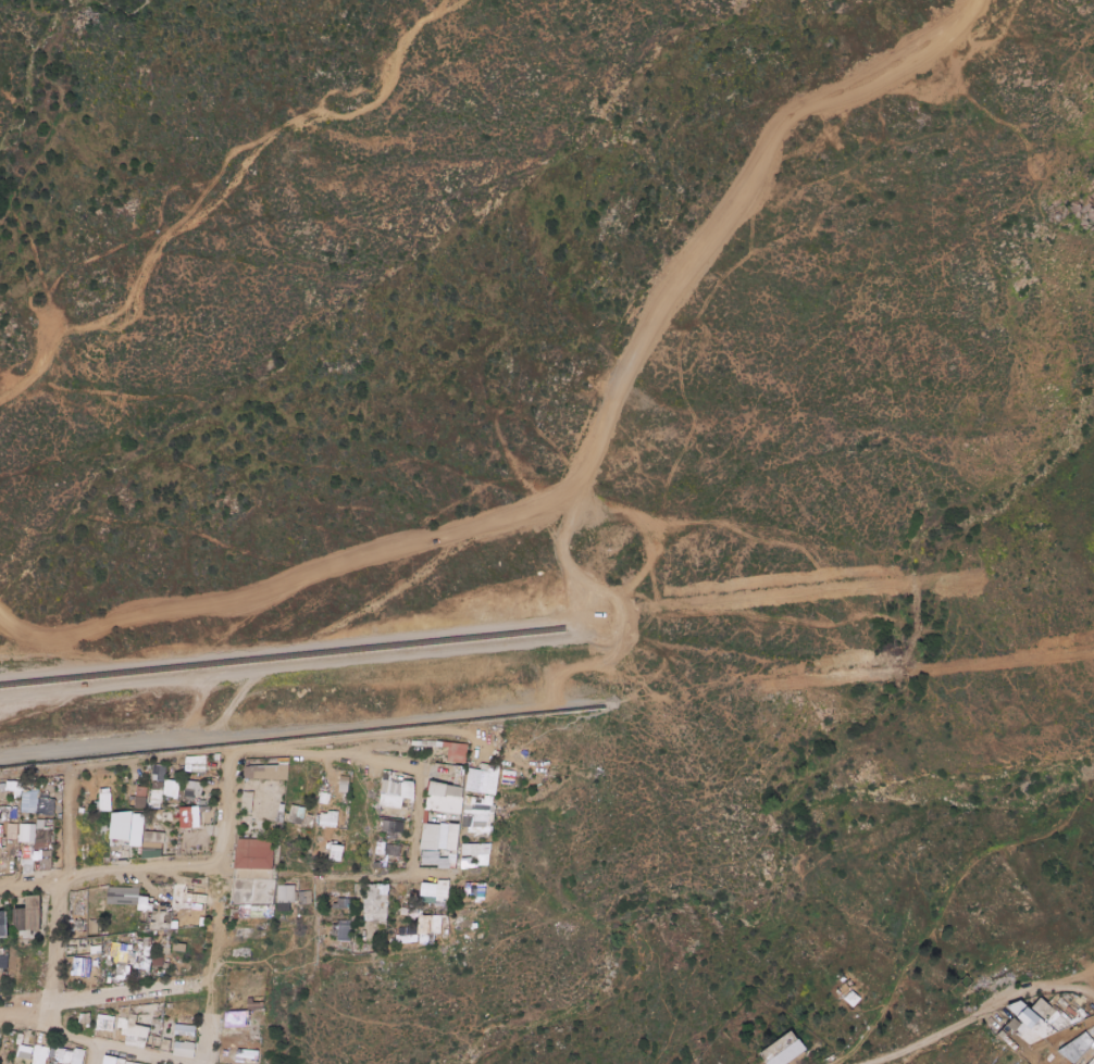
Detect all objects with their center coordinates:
road: (960, 28)
road: (260, 159)
road: (32, 189)
road: (705, 261)
road: (38, 372)
road: (656, 530)
road: (475, 537)
road: (581, 617)
road: (549, 636)
road: (283, 644)
road: (547, 709)
building: (453, 754)
road: (327, 755)
building: (215, 758)
building: (181, 762)
building: (246, 762)
building: (250, 763)
building: (195, 764)
building: (268, 772)
building: (158, 773)
building: (450, 774)
building: (383, 775)
building: (484, 779)
building: (4, 783)
building: (8, 783)
building: (395, 784)
building: (14, 786)
building: (338, 786)
building: (427, 786)
building: (386, 787)
building: (191, 788)
building: (398, 788)
building: (172, 789)
building: (444, 789)
building: (132, 792)
building: (430, 792)
building: (460, 792)
building: (179, 793)
building: (401, 793)
building: (41, 796)
building: (157, 796)
building: (409, 796)
building: (188, 797)
building: (105, 800)
building: (182, 801)
building: (389, 801)
building: (140, 802)
building: (202, 802)
building: (246, 802)
building: (29, 803)
building: (443, 803)
building: (46, 806)
building: (149, 806)
building: (279, 808)
building: (477, 809)
building: (115, 810)
building: (1, 813)
building: (378, 813)
building: (176, 814)
building: (296, 814)
building: (386, 814)
building: (3, 816)
building: (278, 816)
building: (59, 817)
building: (328, 818)
building: (140, 821)
building: (409, 821)
building: (82, 822)
road: (419, 822)
building: (378, 823)
building: (124, 826)
building: (194, 826)
building: (390, 826)
building: (477, 827)
building: (26, 833)
building: (41, 833)
building: (122, 833)
building: (391, 834)
building: (431, 834)
building: (448, 835)
building: (154, 837)
building: (7, 841)
building: (444, 843)
building: (42, 847)
building: (389, 849)
building: (152, 850)
building: (84, 851)
building: (339, 852)
building: (452, 852)
building: (478, 853)
building: (15, 854)
building: (37, 854)
building: (254, 854)
building: (91, 855)
building: (27, 856)
building: (78, 858)
building: (438, 858)
building: (36, 859)
building: (451, 859)
building: (104, 860)
building: (45, 861)
building: (433, 861)
building: (2, 863)
building: (3, 871)
building: (253, 874)
road: (110, 876)
road: (403, 876)
building: (204, 879)
building: (136, 886)
building: (167, 889)
building: (444, 889)
building: (430, 890)
building: (474, 891)
building: (179, 892)
building: (253, 892)
road: (63, 893)
building: (408, 893)
building: (285, 894)
building: (123, 896)
building: (296, 897)
building: (46, 898)
building: (191, 898)
building: (303, 898)
building: (201, 899)
building: (443, 899)
building: (411, 900)
building: (430, 900)
building: (150, 901)
building: (333, 901)
building: (401, 901)
building: (376, 902)
building: (349, 903)
building: (146, 904)
building: (185, 904)
building: (338, 904)
building: (260, 905)
road: (219, 906)
building: (283, 906)
building: (445, 906)
building: (437, 907)
building: (415, 909)
building: (34, 910)
building: (272, 911)
building: (420, 911)
building: (244, 912)
building: (260, 912)
building: (232, 913)
building: (235, 913)
building: (15, 914)
building: (26, 918)
building: (160, 921)
building: (426, 921)
building: (16, 923)
building: (149, 923)
building: (3, 925)
building: (77, 925)
building: (173, 925)
building: (91, 926)
building: (165, 932)
building: (343, 932)
building: (26, 934)
building: (247, 934)
building: (134, 935)
building: (167, 935)
building: (384, 936)
building: (394, 936)
building: (394, 938)
building: (407, 939)
building: (99, 941)
building: (147, 941)
building: (0, 946)
building: (138, 946)
building: (165, 947)
building: (369, 947)
building: (178, 948)
building: (1, 951)
building: (5, 951)
building: (147, 951)
building: (245, 952)
building: (381, 952)
building: (127, 956)
building: (165, 959)
building: (156, 961)
building: (3, 962)
building: (83, 962)
building: (92, 962)
building: (164, 965)
building: (151, 967)
road: (1082, 968)
building: (0, 969)
building: (4, 971)
building: (162, 972)
building: (135, 973)
building: (145, 974)
building: (100, 976)
building: (120, 979)
road: (1082, 984)
road: (108, 993)
building: (169, 1005)
building: (257, 1006)
building: (1043, 1006)
building: (157, 1009)
building: (1019, 1009)
building: (157, 1012)
road: (965, 1017)
building: (84, 1018)
building: (1032, 1018)
building: (104, 1022)
building: (156, 1022)
road: (674, 1023)
building: (122, 1025)
road: (871, 1025)
building: (96, 1029)
building: (104, 1029)
building: (184, 1030)
building: (136, 1032)
building: (37, 1039)
building: (165, 1044)
road: (110, 1048)
building: (183, 1049)
building: (787, 1050)
building: (55, 1051)
building: (26, 1052)
building: (67, 1054)
road: (92, 1054)
building: (253, 1056)
building: (37, 1060)
building: (51, 1060)
building: (64, 1061)
building: (113, 1061)
building: (0, 1062)
building: (127, 1063)

